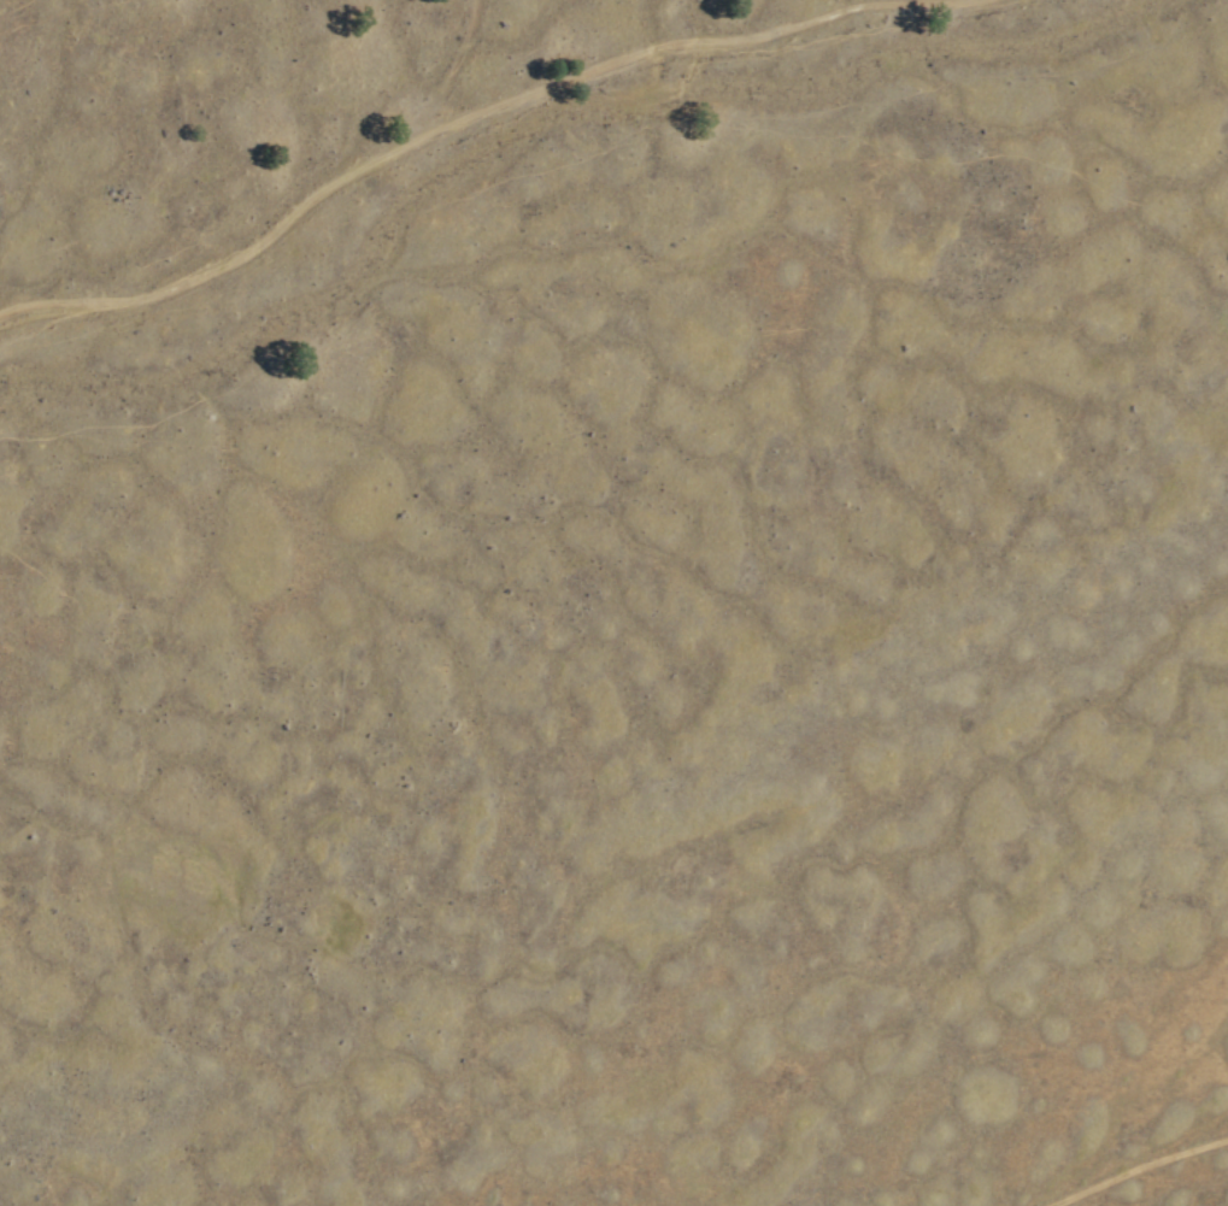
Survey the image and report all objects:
road: (423, 133)
road: (1134, 1167)

